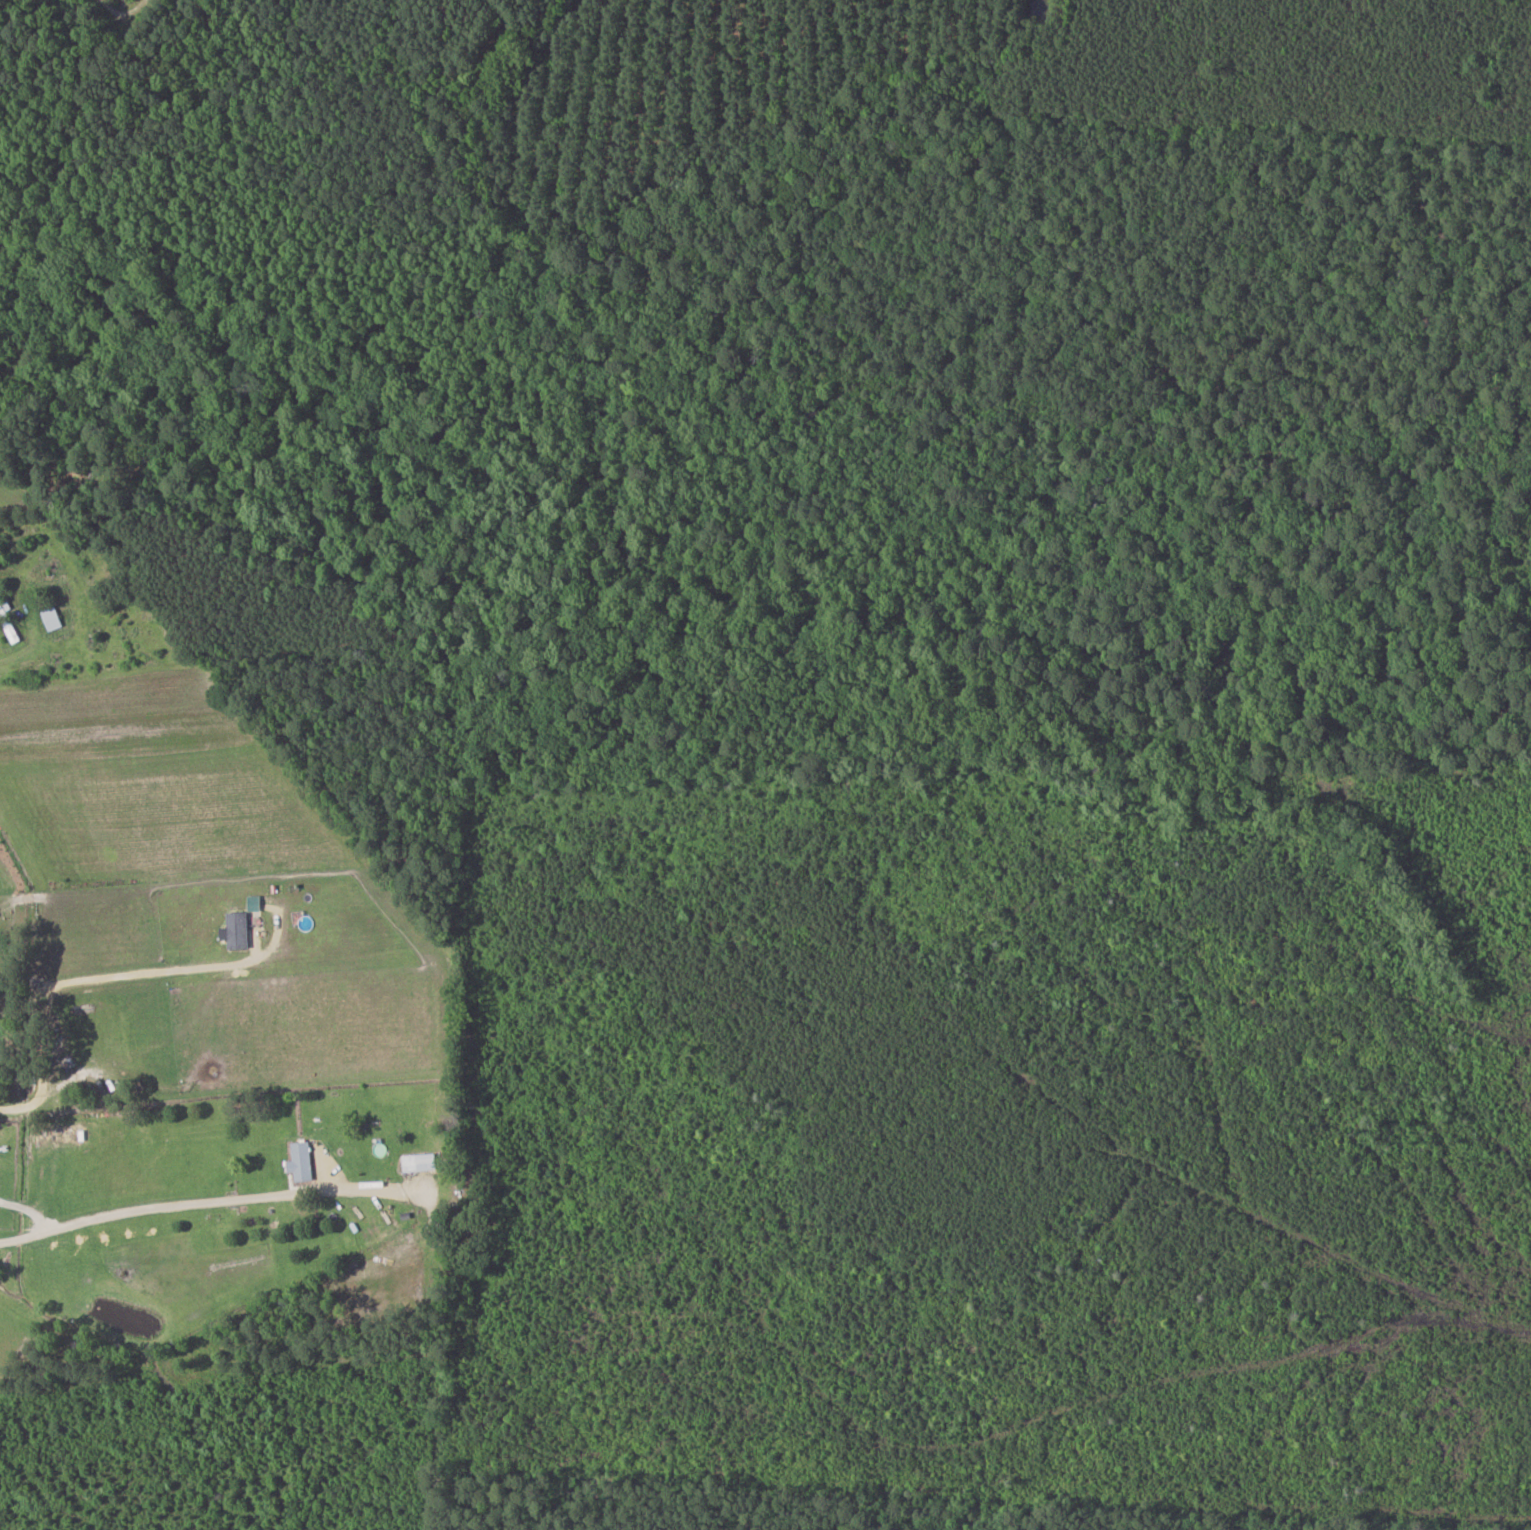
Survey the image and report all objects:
building: (0, 601)
building: (48, 619)
building: (5, 628)
building: (250, 903)
building: (232, 930)
road: (198, 1057)
road: (49, 1092)
building: (297, 1162)
building: (415, 1162)
road: (210, 1201)

